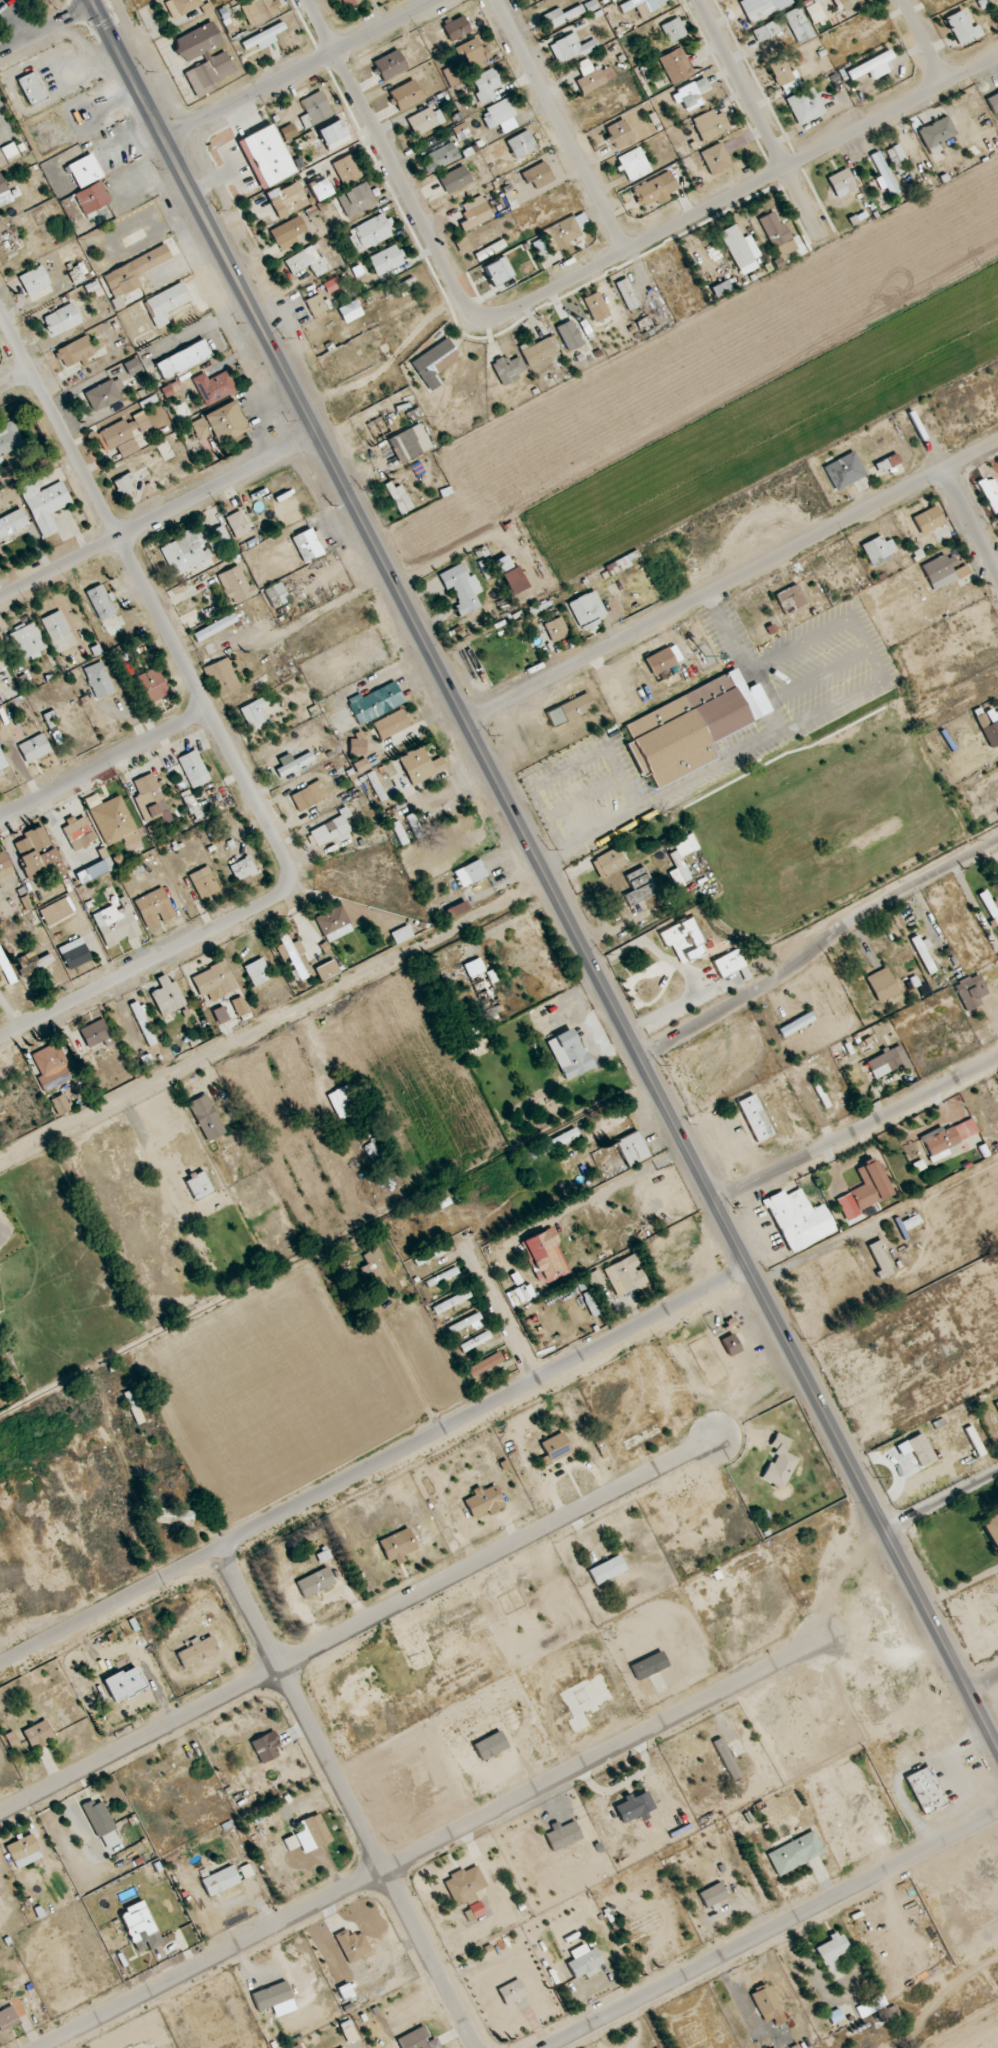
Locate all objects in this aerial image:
building: (349, 3)
building: (847, 4)
traffic signals: (96, 6)
building: (590, 6)
building: (627, 6)
building: (180, 7)
building: (258, 11)
building: (641, 11)
building: (759, 12)
building: (814, 12)
building: (562, 16)
building: (798, 25)
building: (456, 28)
road: (48, 29)
building: (673, 29)
building: (963, 29)
building: (766, 30)
building: (263, 37)
road: (923, 41)
building: (573, 46)
building: (473, 53)
building: (216, 58)
building: (390, 65)
building: (676, 65)
building: (871, 67)
road: (301, 68)
building: (592, 76)
building: (784, 76)
building: (450, 77)
building: (485, 85)
building: (31, 89)
building: (690, 94)
building: (406, 95)
building: (993, 102)
building: (805, 105)
building: (315, 109)
building: (500, 116)
building: (422, 121)
road: (761, 121)
road: (561, 125)
building: (709, 125)
building: (461, 131)
building: (936, 132)
building: (333, 134)
building: (618, 135)
building: (521, 144)
building: (9, 150)
building: (267, 155)
building: (440, 157)
building: (715, 159)
road: (393, 161)
building: (634, 164)
building: (347, 169)
building: (84, 170)
building: (882, 173)
building: (538, 176)
building: (454, 179)
building: (841, 183)
building: (319, 189)
building: (655, 190)
road: (741, 192)
building: (4, 193)
building: (92, 197)
building: (287, 199)
building: (356, 200)
building: (474, 213)
building: (566, 231)
building: (370, 232)
building: (287, 233)
building: (777, 233)
building: (462, 245)
building: (540, 248)
building: (740, 249)
building: (385, 260)
building: (307, 261)
building: (134, 271)
building: (498, 271)
building: (34, 280)
building: (332, 284)
building: (627, 294)
building: (166, 303)
building: (315, 305)
building: (596, 306)
building: (350, 311)
building: (62, 320)
building: (569, 335)
building: (76, 351)
building: (536, 351)
building: (183, 359)
building: (434, 362)
building: (132, 366)
road: (17, 384)
building: (214, 387)
building: (171, 389)
building: (104, 394)
building: (139, 422)
building: (219, 423)
building: (9, 439)
building: (119, 439)
building: (409, 443)
building: (844, 471)
building: (123, 486)
road: (957, 490)
building: (990, 493)
building: (401, 500)
building: (44, 504)
road: (160, 517)
building: (928, 520)
building: (12, 522)
building: (237, 524)
building: (307, 545)
building: (190, 549)
building: (878, 551)
building: (943, 571)
building: (510, 575)
road: (732, 581)
building: (235, 584)
building: (462, 588)
building: (276, 595)
building: (790, 599)
building: (101, 602)
building: (587, 610)
building: (55, 626)
building: (215, 627)
building: (556, 629)
building: (27, 640)
building: (0, 655)
building: (660, 661)
road: (743, 661)
building: (222, 677)
building: (98, 680)
building: (152, 685)
building: (376, 702)
building: (570, 709)
building: (253, 712)
building: (50, 719)
building: (982, 721)
building: (391, 724)
building: (691, 727)
road: (222, 738)
building: (34, 748)
building: (2, 762)
building: (294, 764)
building: (361, 765)
building: (420, 765)
road: (104, 767)
building: (193, 768)
building: (376, 787)
building: (309, 796)
building: (149, 797)
building: (194, 810)
building: (114, 821)
building: (413, 824)
building: (329, 831)
building: (78, 832)
building: (38, 854)
building: (608, 862)
building: (678, 862)
building: (5, 866)
building: (243, 869)
building: (94, 870)
building: (470, 873)
road: (544, 873)
building: (203, 882)
building: (639, 886)
building: (990, 907)
building: (154, 908)
building: (456, 909)
building: (56, 911)
building: (116, 923)
building: (333, 923)
building: (401, 934)
building: (684, 939)
road: (818, 946)
building: (923, 952)
building: (293, 953)
building: (74, 954)
building: (33, 963)
building: (728, 963)
building: (5, 967)
building: (474, 967)
building: (327, 970)
building: (258, 971)
building: (214, 979)
building: (882, 985)
building: (970, 991)
building: (167, 996)
building: (239, 1006)
building: (220, 1015)
road: (274, 1020)
building: (143, 1023)
building: (796, 1024)
building: (95, 1033)
building: (569, 1054)
building: (887, 1062)
building: (52, 1067)
building: (344, 1104)
building: (60, 1105)
building: (206, 1117)
building: (755, 1118)
road: (856, 1130)
building: (947, 1138)
building: (556, 1142)
building: (632, 1148)
building: (199, 1185)
building: (864, 1191)
building: (798, 1219)
building: (430, 1254)
building: (545, 1256)
building: (879, 1259)
building: (373, 1268)
building: (625, 1275)
building: (441, 1277)
building: (451, 1302)
building: (593, 1308)
building: (464, 1324)
building: (475, 1341)
building: (731, 1345)
building: (484, 1364)
road: (398, 1369)
building: (996, 1403)
building: (132, 1405)
building: (555, 1448)
building: (979, 1448)
building: (920, 1449)
building: (780, 1462)
road: (374, 1463)
road: (941, 1500)
building: (483, 1501)
building: (163, 1517)
building: (991, 1528)
building: (393, 1547)
building: (607, 1570)
building: (315, 1582)
road: (358, 1621)
building: (197, 1652)
road: (982, 1678)
building: (124, 1683)
building: (38, 1735)
building: (12, 1739)
building: (490, 1745)
building: (266, 1747)
building: (726, 1759)
building: (926, 1790)
building: (101, 1824)
building: (312, 1833)
road: (369, 1835)
building: (563, 1836)
road: (426, 1840)
building: (290, 1843)
building: (24, 1851)
building: (795, 1853)
building: (220, 1881)
building: (464, 1885)
building: (713, 1895)
building: (140, 1927)
road: (773, 1929)
building: (353, 1946)
building: (832, 1956)
building: (584, 1961)
building: (345, 1992)
building: (512, 1992)
building: (274, 1999)
building: (766, 2001)
building: (875, 2003)
building: (835, 2016)
building: (8, 2018)
building: (349, 2032)
building: (417, 2039)
building: (297, 2046)
building: (343, 2047)

